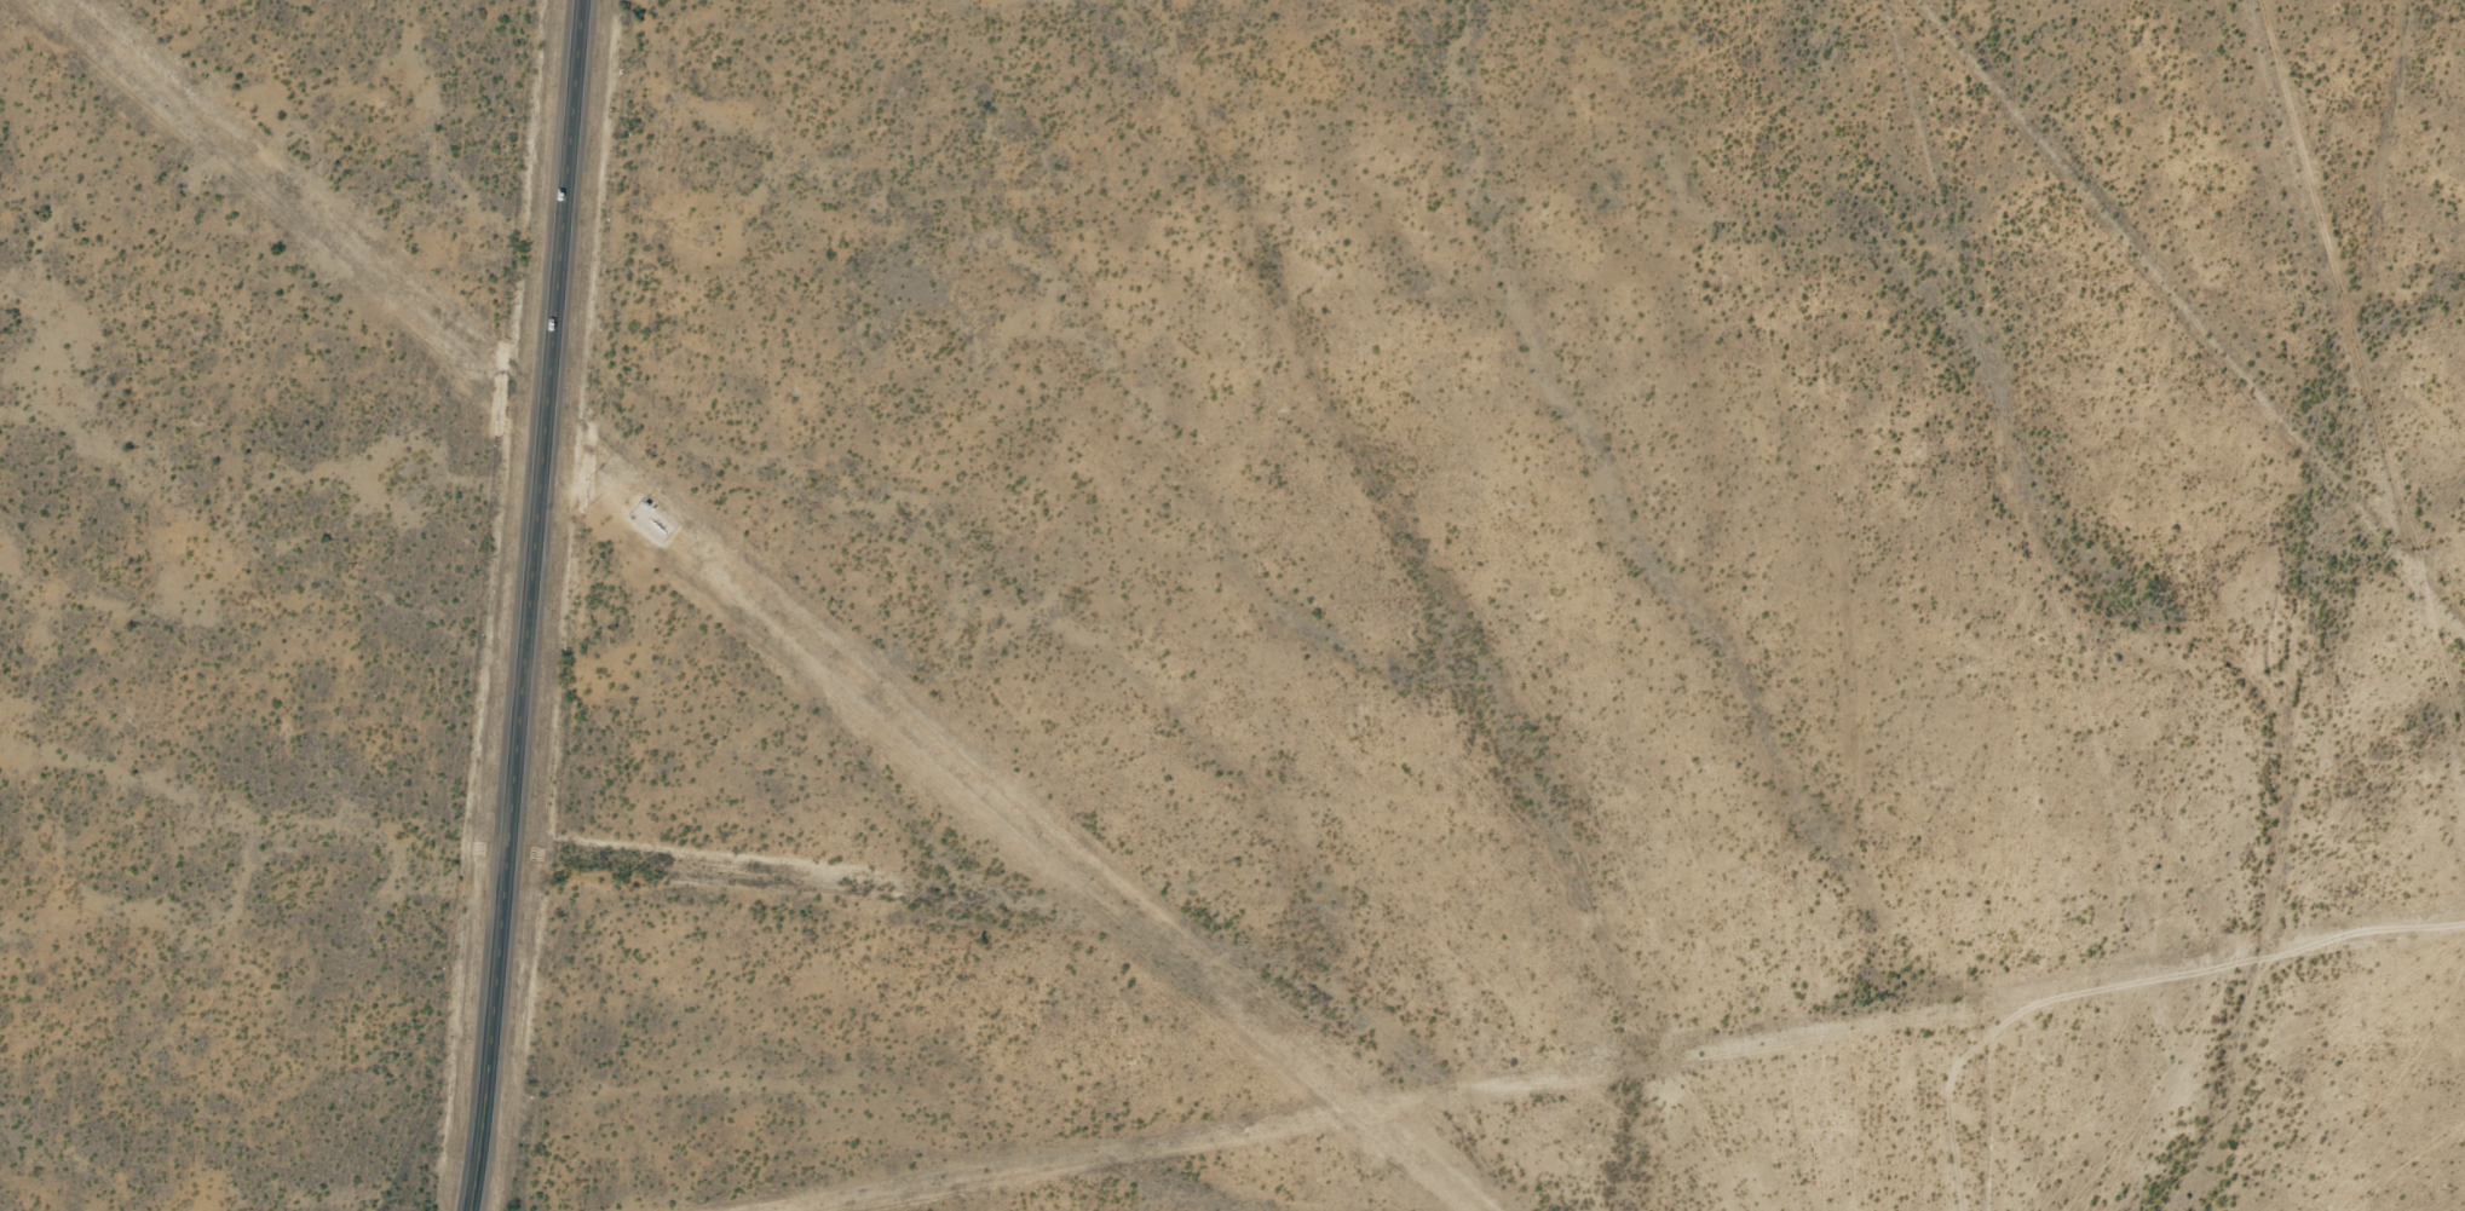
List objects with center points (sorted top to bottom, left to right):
road: (530, 605)

